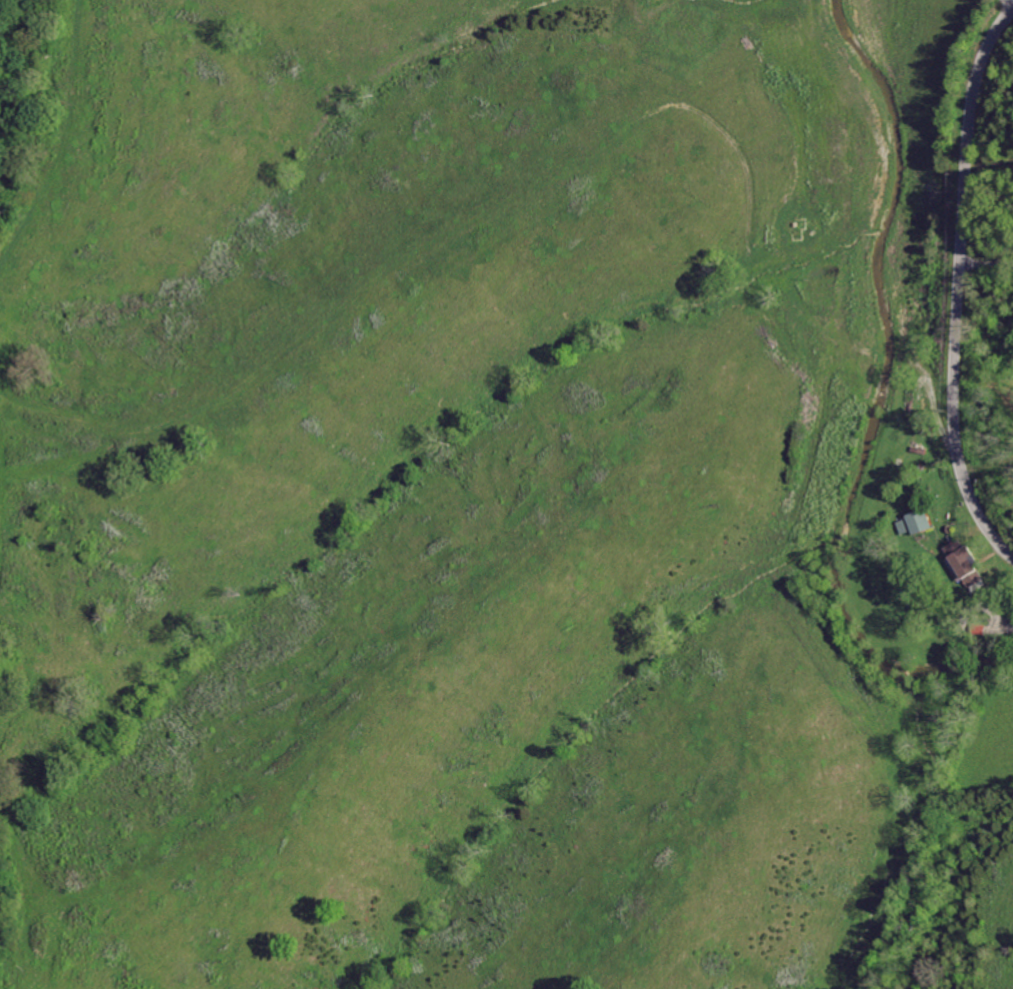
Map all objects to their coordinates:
road: (962, 279)
building: (914, 524)
road: (1009, 552)
building: (966, 563)

